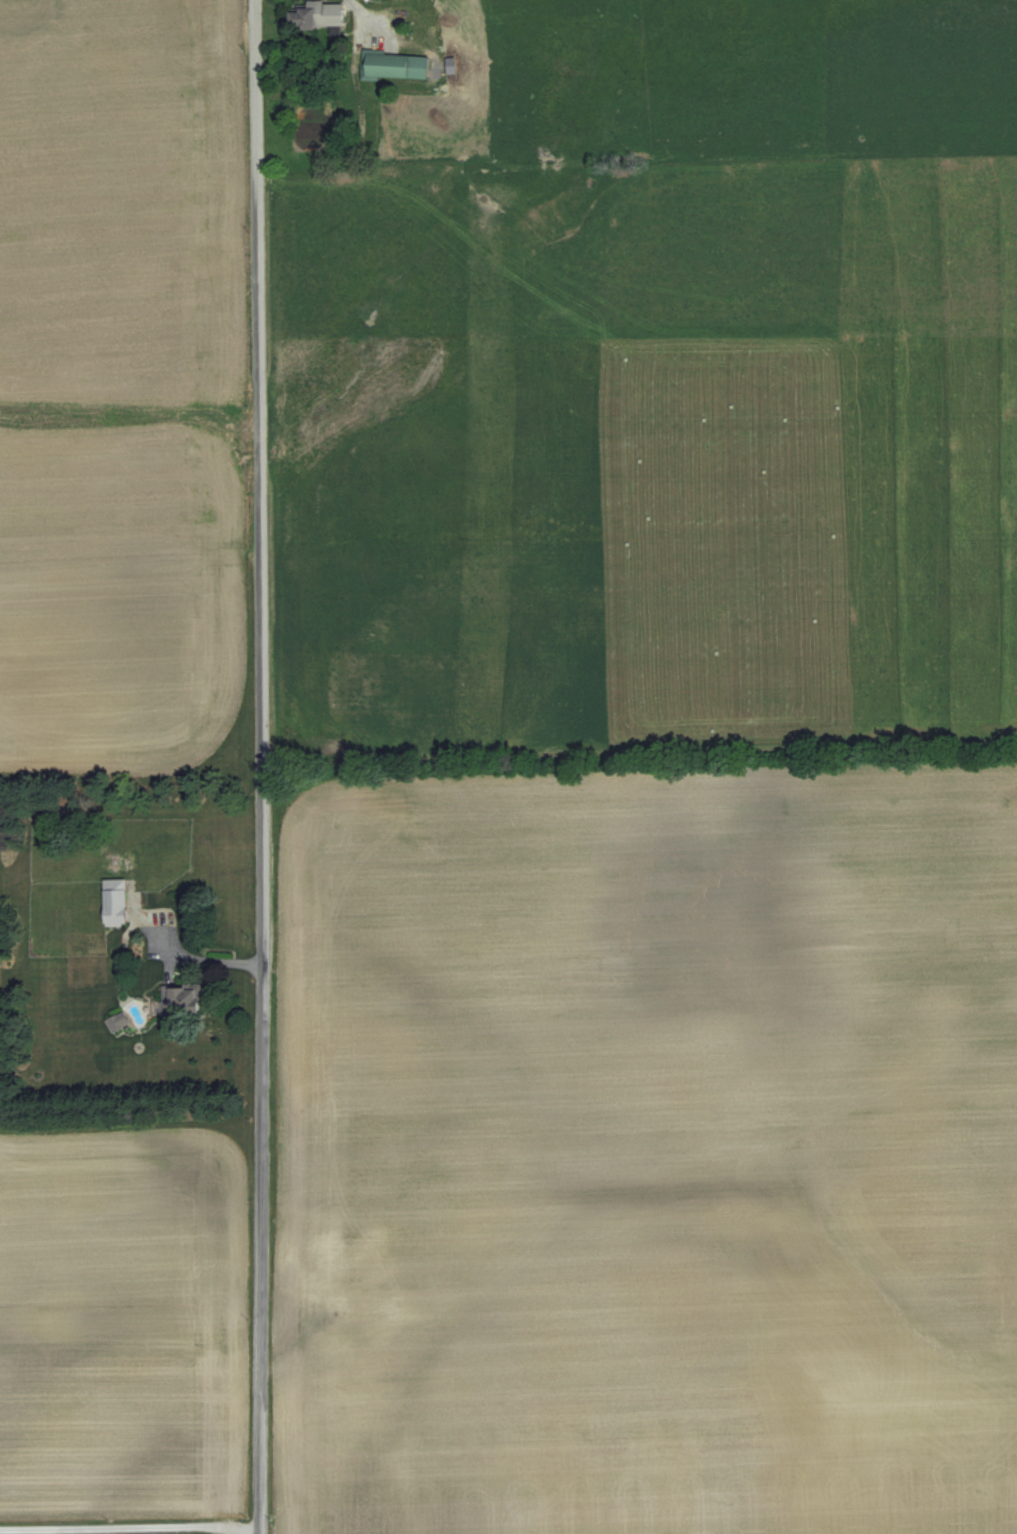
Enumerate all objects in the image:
building: (316, 14)
road: (363, 15)
building: (394, 64)
road: (257, 766)
building: (114, 902)
road: (198, 960)
building: (180, 998)
road: (302, 1328)
road: (128, 1529)

